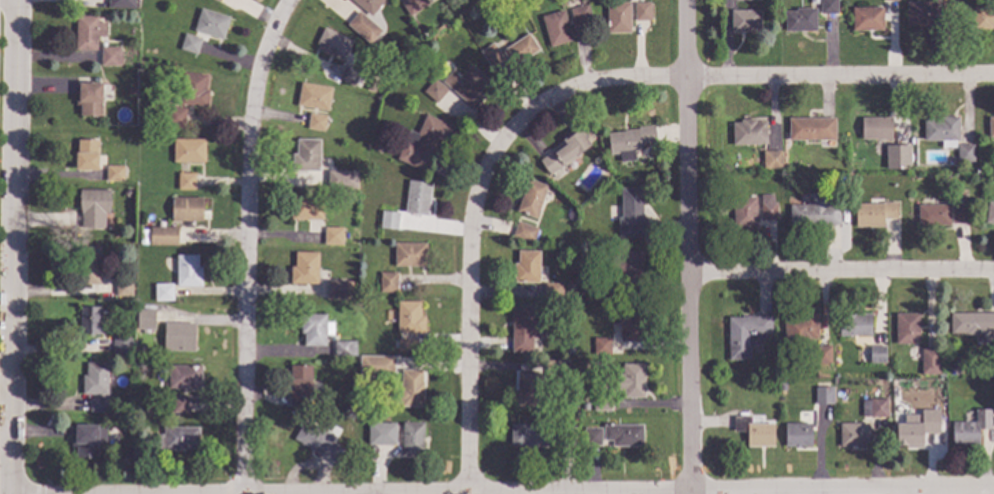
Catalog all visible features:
building: (215, 0)
building: (508, 0)
building: (744, 0)
building: (119, 3)
building: (369, 5)
building: (413, 5)
building: (828, 6)
building: (643, 10)
building: (924, 13)
building: (581, 14)
building: (618, 16)
building: (983, 16)
building: (800, 18)
building: (867, 18)
building: (745, 20)
park: (0, 21)
building: (212, 23)
building: (363, 27)
building: (557, 27)
building: (89, 31)
building: (191, 43)
building: (333, 43)
building: (520, 49)
building: (491, 54)
building: (111, 55)
building: (350, 74)
road: (734, 77)
building: (466, 83)
building: (374, 87)
building: (194, 89)
building: (435, 89)
building: (132, 90)
building: (314, 95)
building: (90, 98)
building: (175, 116)
building: (317, 121)
building: (991, 126)
building: (811, 128)
building: (878, 129)
building: (942, 130)
building: (749, 132)
building: (630, 140)
building: (425, 142)
building: (377, 144)
building: (189, 149)
building: (566, 151)
building: (965, 152)
building: (87, 154)
building: (307, 154)
building: (897, 156)
building: (772, 158)
building: (115, 172)
building: (772, 175)
building: (332, 179)
building: (186, 181)
building: (346, 184)
building: (142, 194)
building: (418, 196)
building: (532, 197)
building: (94, 206)
building: (307, 207)
building: (768, 207)
building: (188, 208)
building: (817, 210)
building: (744, 211)
building: (990, 212)
building: (632, 213)
building: (874, 213)
building: (959, 213)
building: (933, 214)
building: (390, 217)
building: (526, 231)
building: (179, 233)
building: (333, 235)
building: (163, 236)
road: (242, 242)
road: (14, 247)
road: (686, 247)
building: (411, 253)
building: (90, 264)
building: (527, 266)
building: (628, 266)
building: (305, 267)
road: (840, 268)
building: (188, 270)
building: (388, 281)
building: (124, 287)
building: (339, 288)
building: (569, 289)
building: (600, 289)
building: (552, 290)
building: (164, 291)
building: (410, 316)
road: (468, 317)
building: (147, 318)
building: (90, 320)
building: (971, 322)
building: (855, 324)
building: (631, 325)
building: (525, 327)
building: (907, 327)
building: (315, 328)
building: (800, 332)
building: (746, 333)
building: (179, 336)
building: (122, 344)
building: (407, 344)
building: (601, 344)
building: (345, 347)
building: (570, 348)
building: (822, 353)
building: (873, 354)
building: (930, 360)
building: (126, 362)
building: (956, 364)
building: (384, 366)
building: (554, 368)
building: (754, 374)
building: (184, 376)
building: (96, 378)
building: (631, 380)
building: (782, 384)
building: (299, 385)
building: (408, 388)
building: (528, 388)
building: (824, 395)
building: (602, 400)
building: (181, 403)
building: (99, 404)
building: (584, 405)
building: (878, 406)
building: (348, 407)
building: (916, 428)
building: (970, 428)
building: (390, 431)
building: (755, 431)
building: (530, 434)
building: (624, 434)
building: (798, 434)
building: (854, 434)
building: (567, 435)
building: (592, 435)
building: (181, 437)
building: (412, 437)
building: (88, 439)
building: (318, 440)
building: (153, 442)
road: (34, 489)
road: (907, 490)
road: (565, 491)

